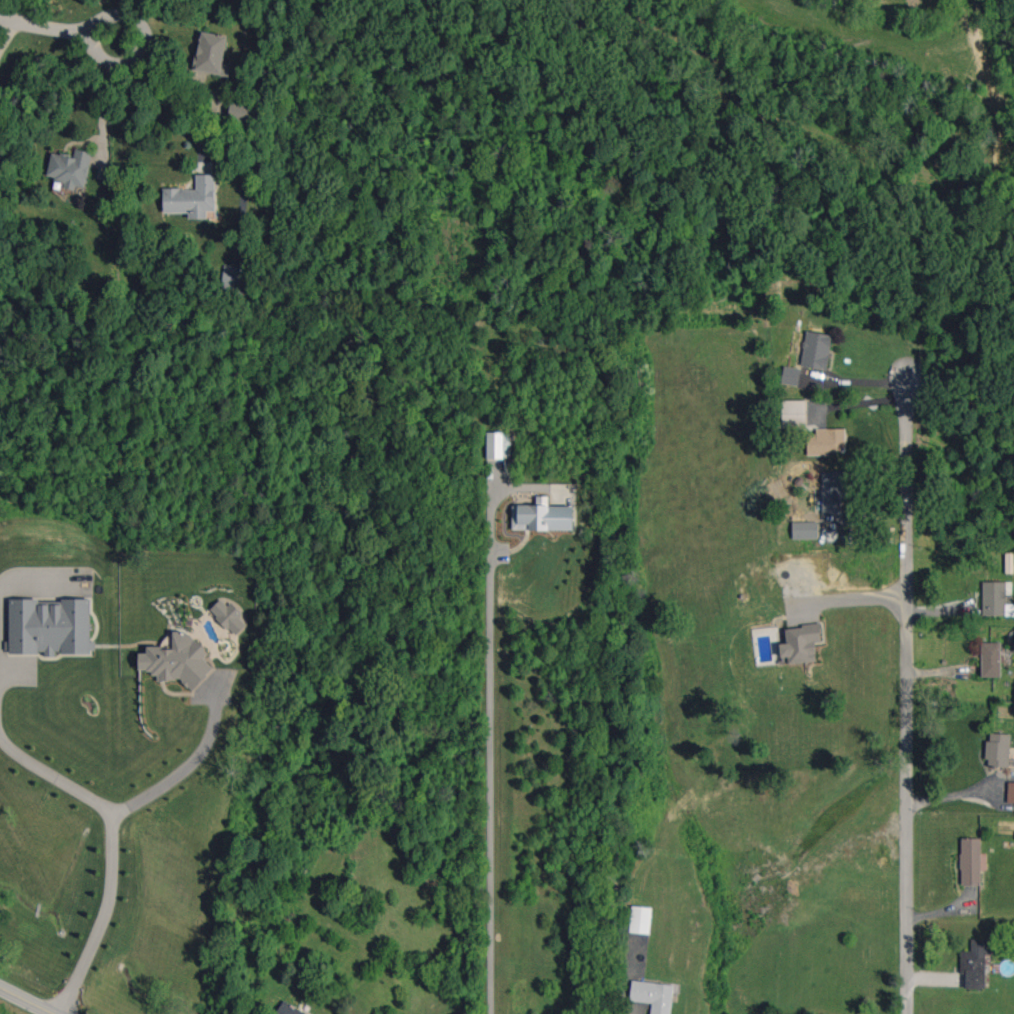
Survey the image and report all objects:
road: (128, 8)
road: (39, 27)
building: (211, 54)
road: (125, 63)
road: (174, 106)
building: (240, 111)
road: (101, 116)
building: (70, 168)
building: (192, 198)
building: (233, 280)
building: (816, 350)
building: (790, 375)
road: (855, 380)
building: (790, 413)
building: (826, 441)
building: (498, 445)
building: (833, 491)
road: (855, 515)
building: (542, 516)
building: (804, 530)
building: (995, 599)
road: (844, 603)
building: (228, 615)
building: (50, 627)
building: (801, 643)
building: (990, 659)
building: (176, 661)
road: (907, 688)
building: (998, 750)
road: (182, 764)
road: (488, 784)
building: (1010, 792)
road: (955, 794)
road: (110, 853)
building: (970, 861)
building: (640, 919)
building: (976, 962)
building: (653, 995)
road: (25, 1001)
building: (287, 1009)

